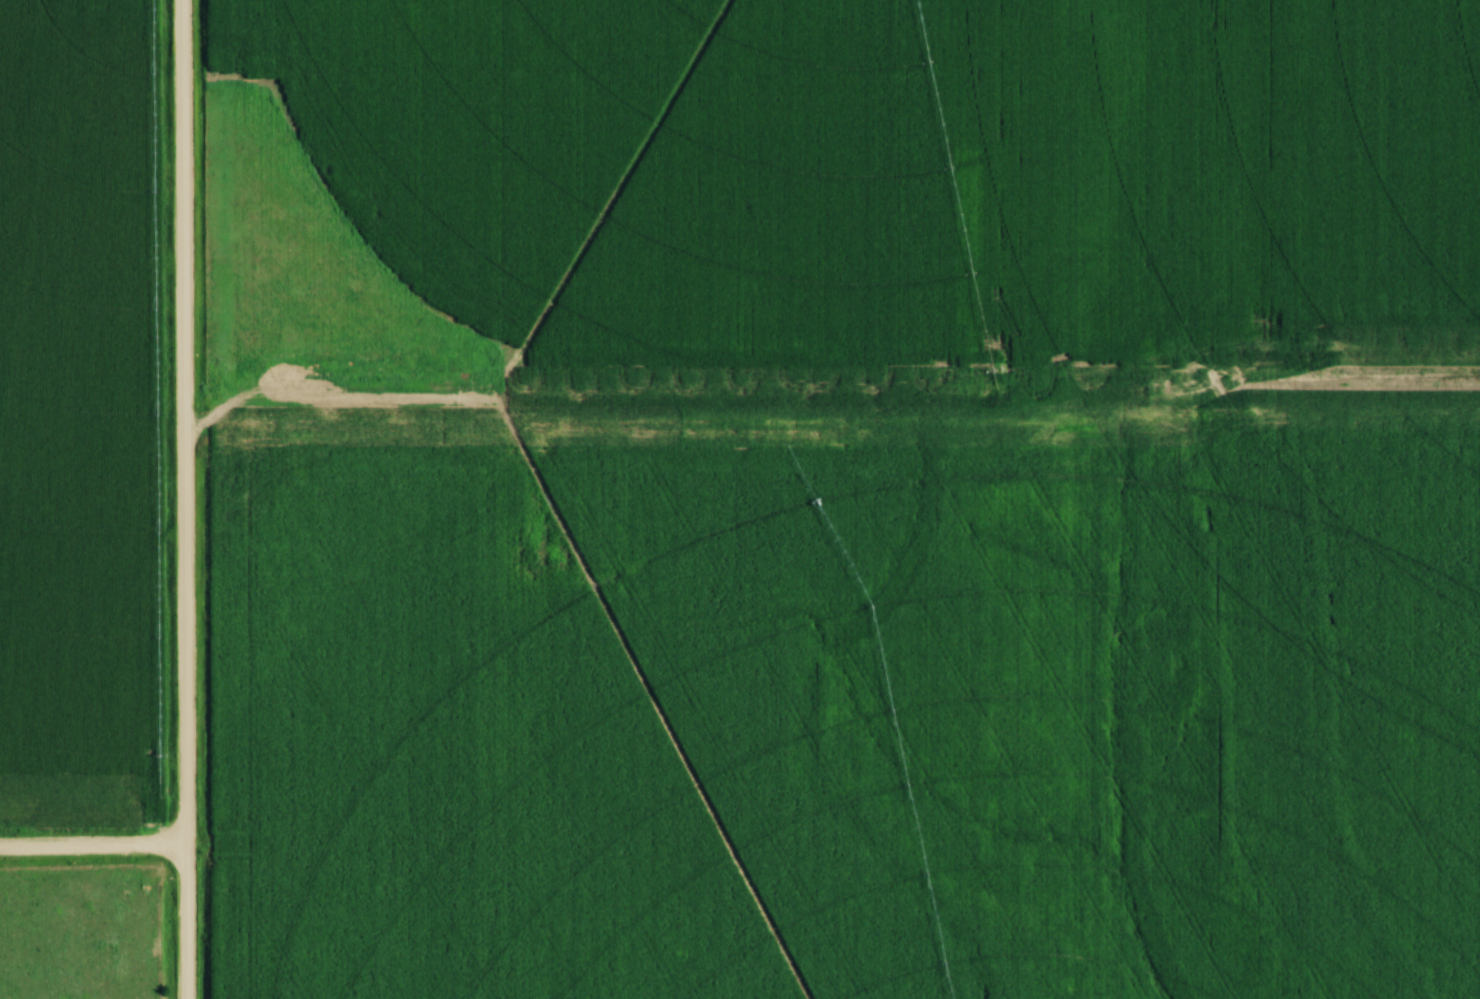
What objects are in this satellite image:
road: (186, 499)
road: (94, 846)

